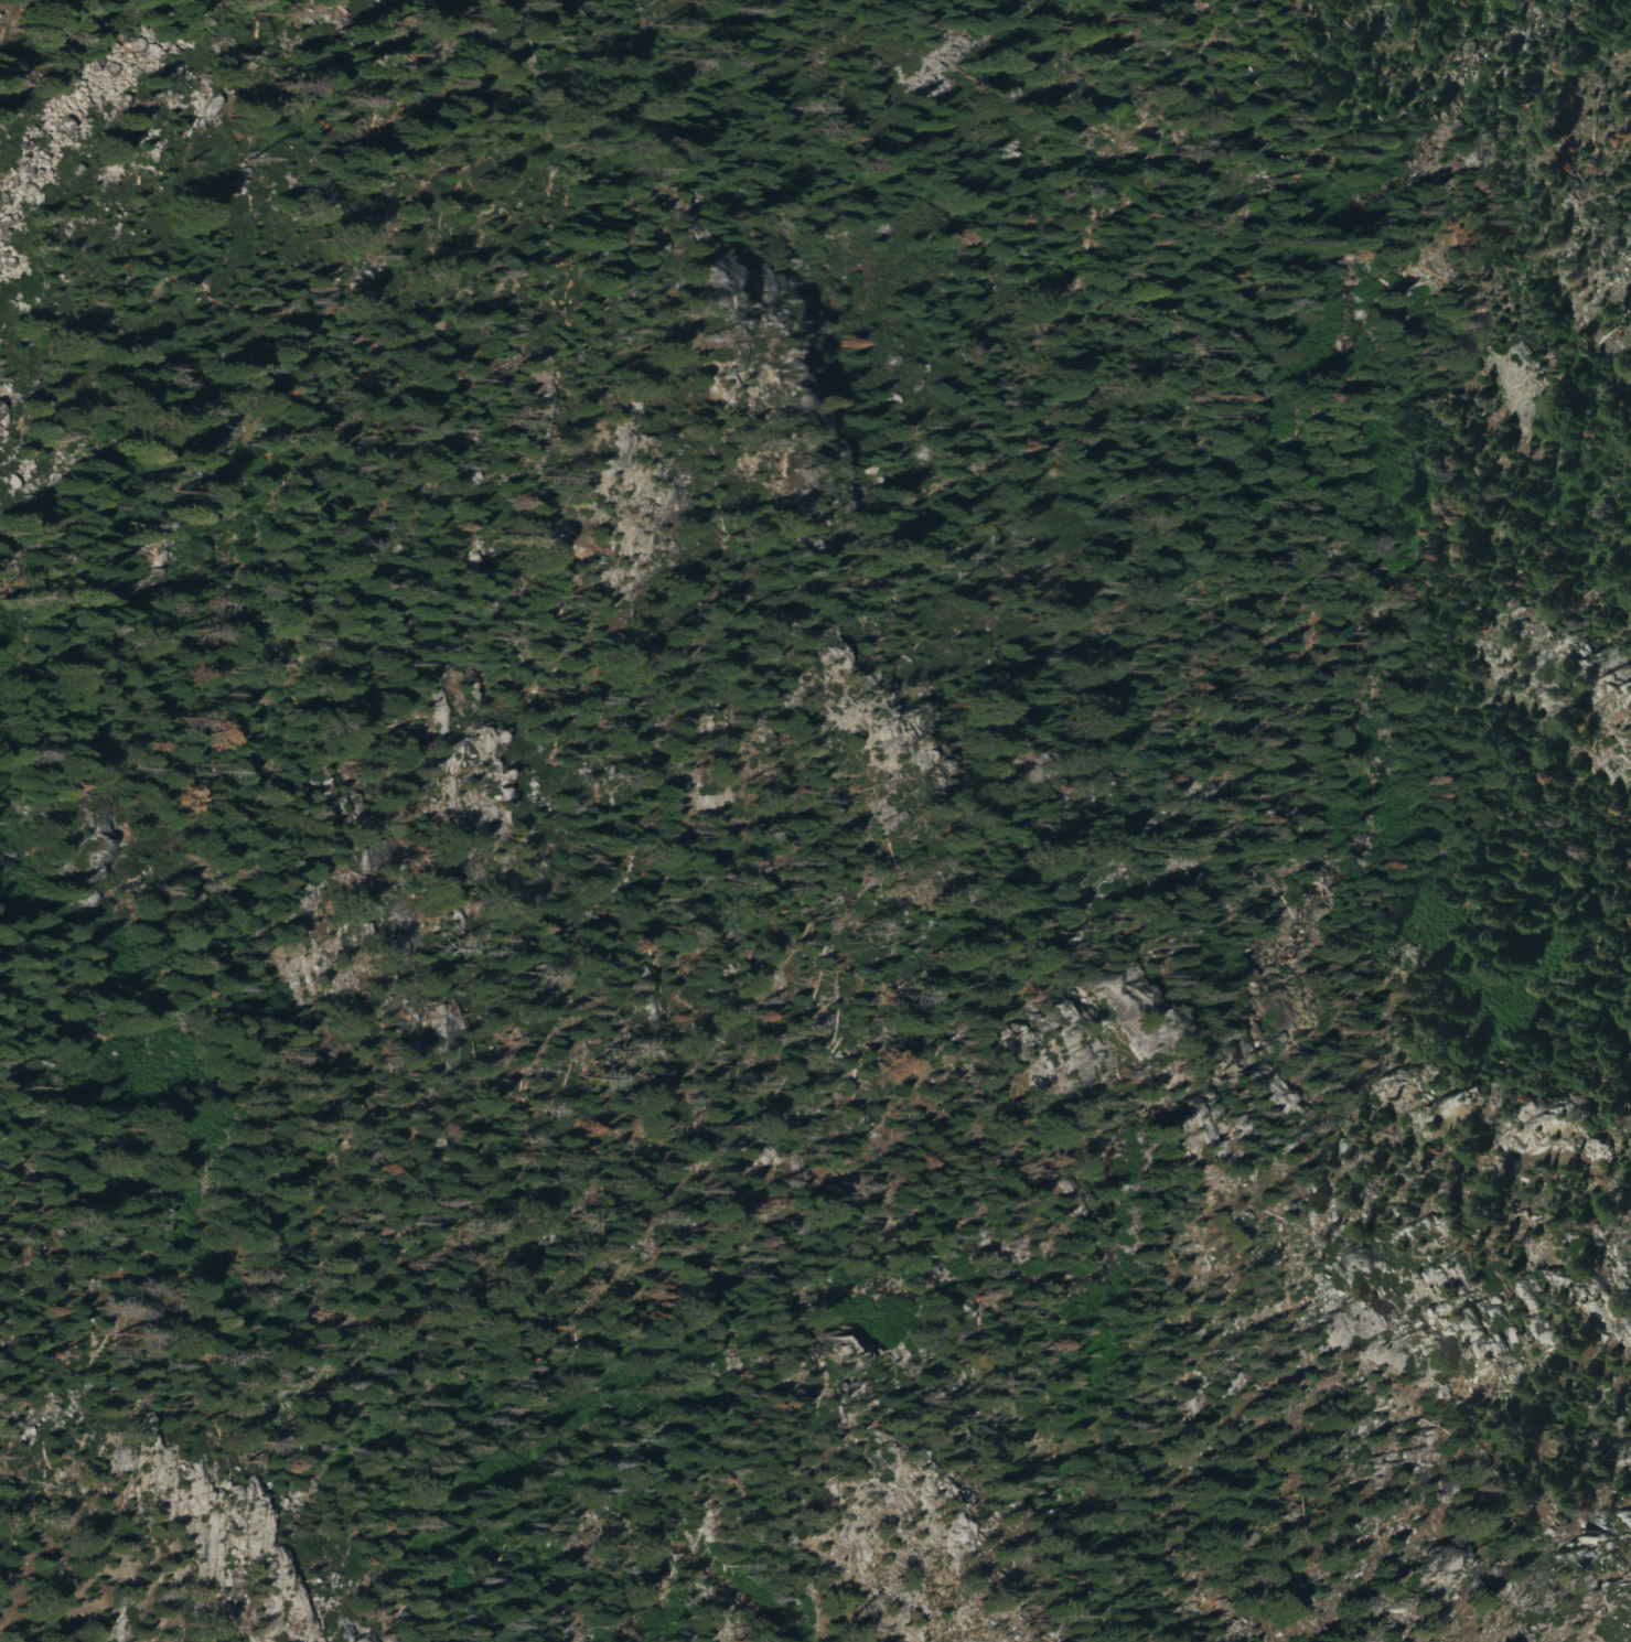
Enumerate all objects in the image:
road: (1231, 427)

